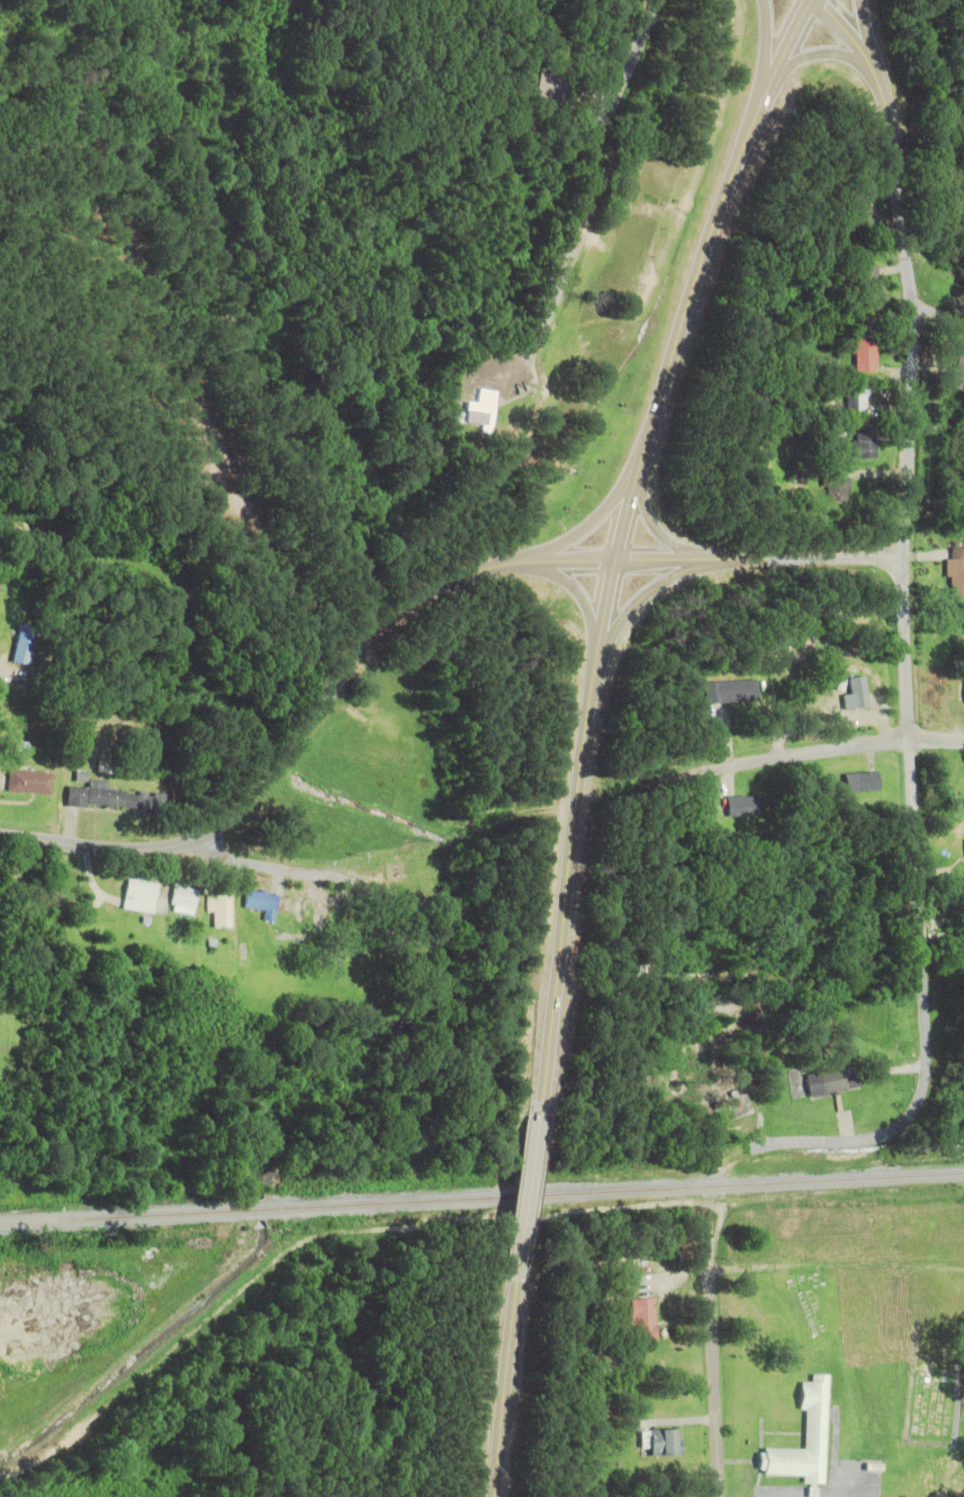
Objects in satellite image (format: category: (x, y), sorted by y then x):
road: (863, 35)
road: (765, 49)
road: (810, 57)
building: (926, 191)
road: (587, 196)
building: (857, 213)
building: (867, 289)
road: (937, 317)
building: (861, 357)
building: (958, 375)
building: (854, 400)
building: (479, 410)
building: (863, 447)
building: (834, 486)
road: (586, 522)
road: (655, 525)
road: (618, 537)
road: (757, 558)
building: (955, 573)
road: (578, 598)
road: (640, 599)
road: (904, 630)
road: (368, 637)
building: (22, 645)
building: (730, 692)
building: (856, 694)
building: (76, 723)
road: (823, 754)
building: (28, 782)
building: (860, 782)
building: (110, 799)
building: (743, 805)
road: (99, 847)
road: (262, 866)
building: (138, 895)
building: (180, 900)
building: (260, 903)
building: (218, 910)
building: (829, 1083)
road: (519, 1191)
railway: (482, 1198)
building: (643, 1321)
road: (711, 1358)
road: (496, 1389)
building: (813, 1429)
building: (663, 1444)

